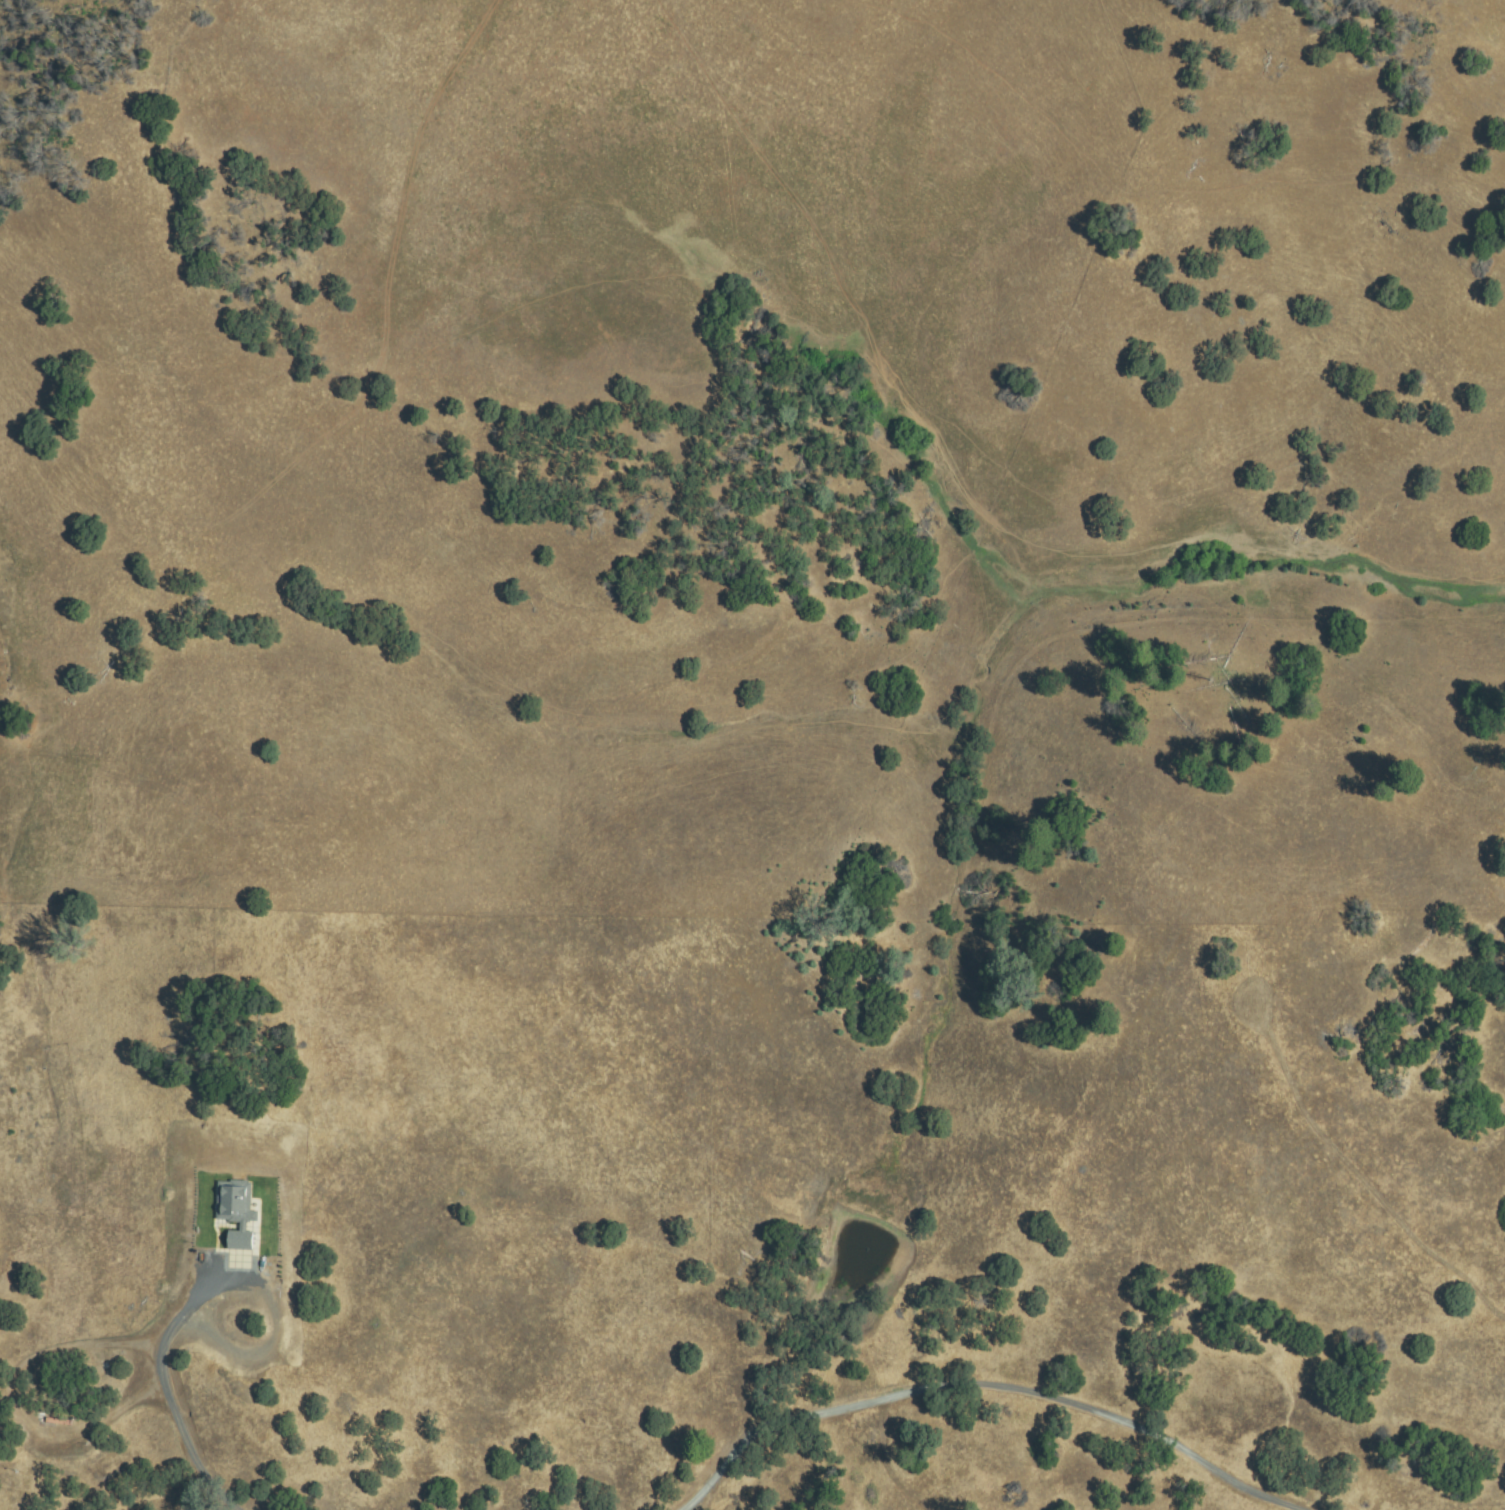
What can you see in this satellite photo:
building: (236, 1210)
building: (60, 1420)
building: (60, 1428)
building: (59, 1443)

